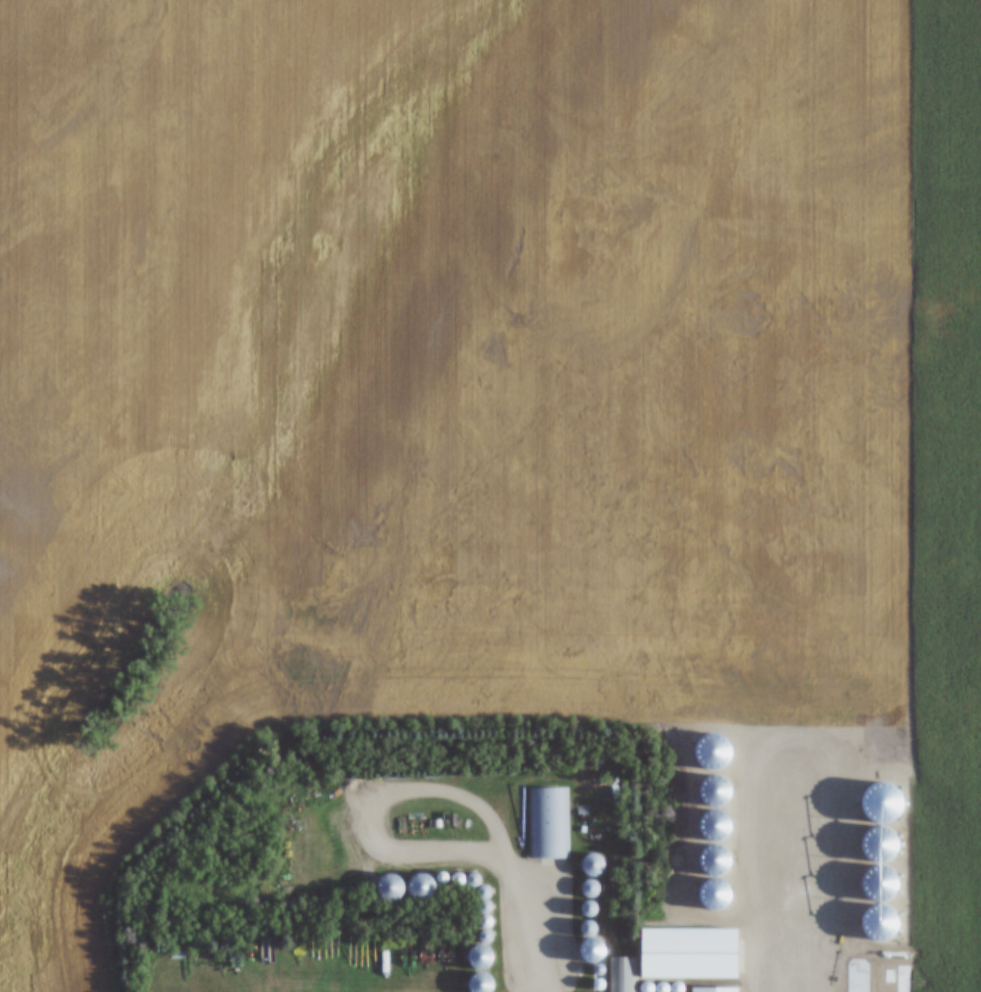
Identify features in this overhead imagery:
building: (548, 821)
building: (593, 864)
building: (421, 885)
building: (591, 886)
building: (390, 888)
building: (690, 951)
building: (481, 968)
building: (623, 974)
building: (715, 988)

